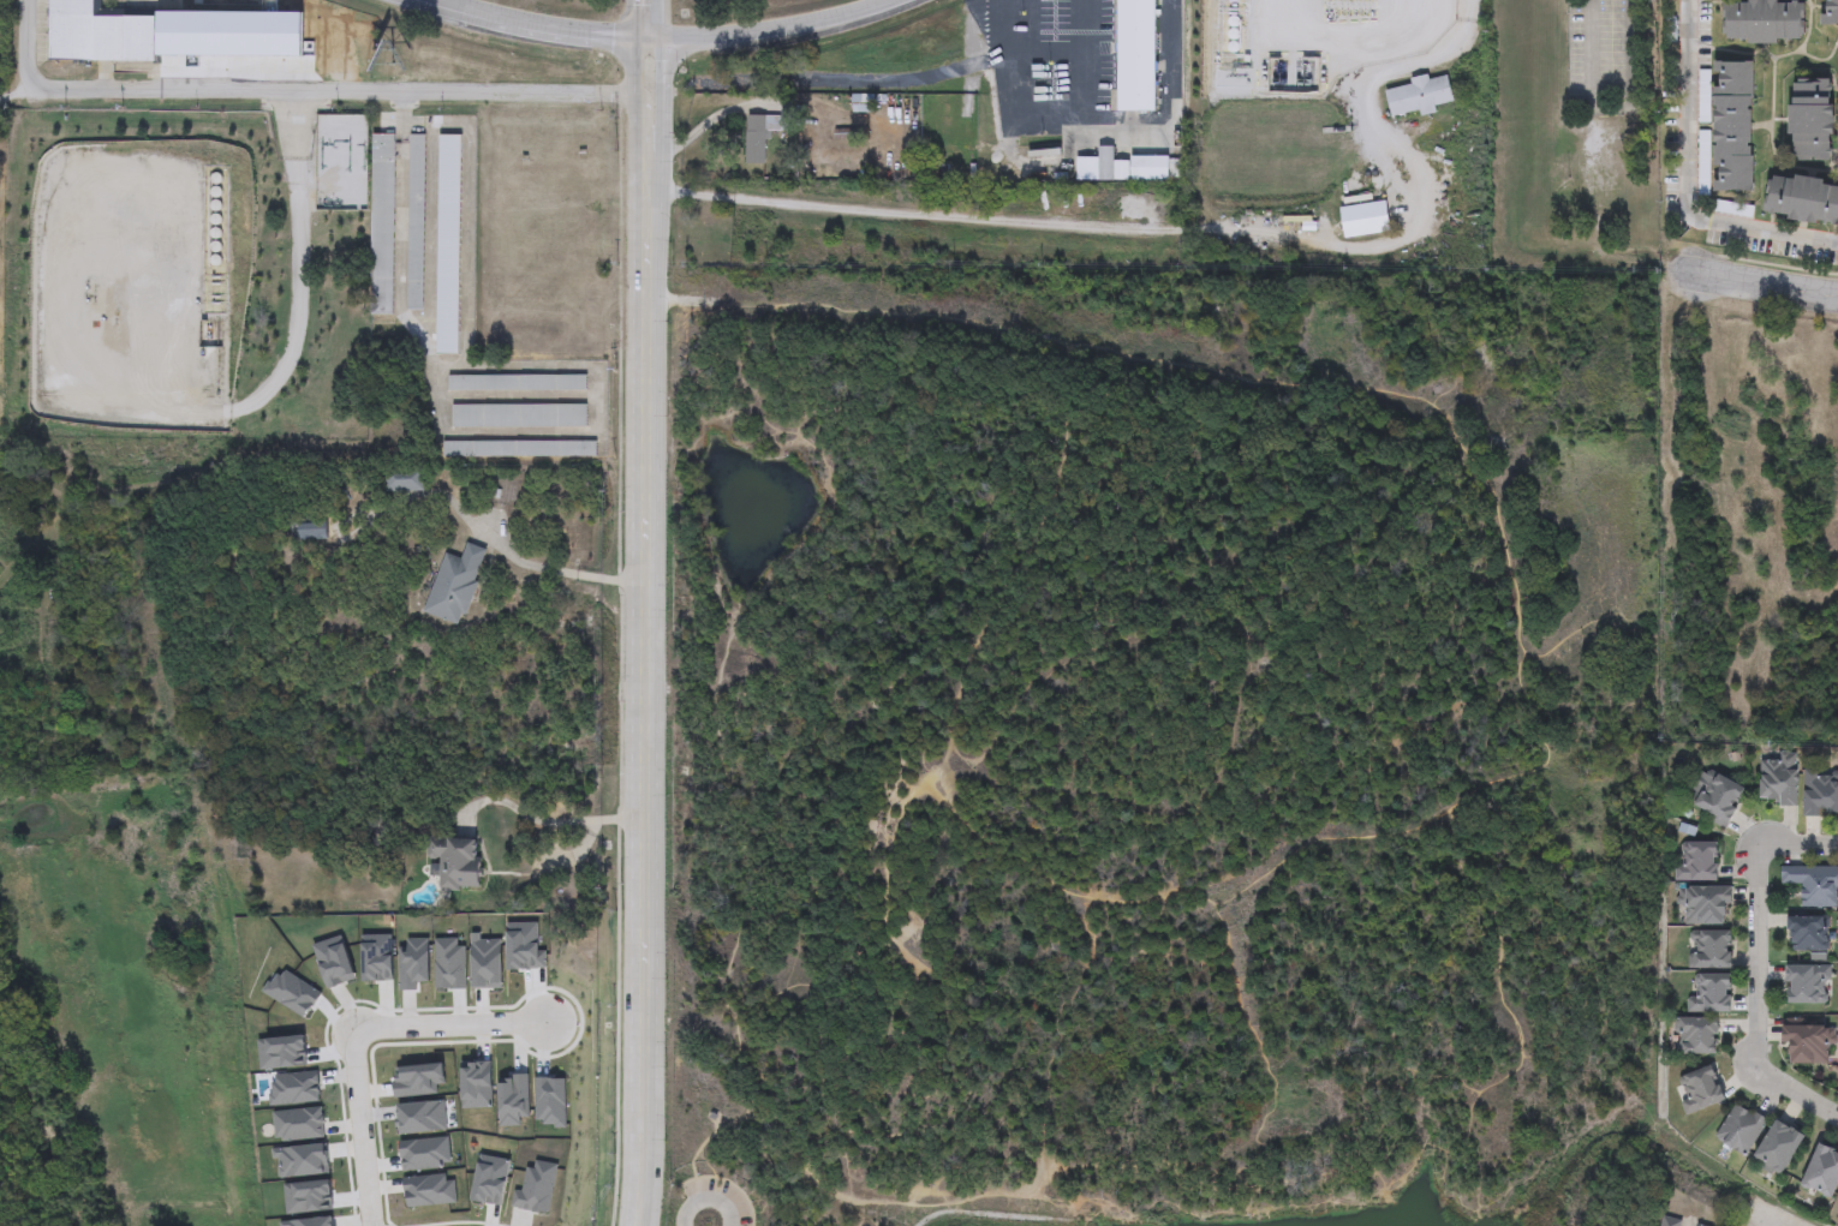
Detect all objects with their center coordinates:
road: (979, 2)
building: (1830, 13)
road: (646, 19)
building: (1765, 23)
building: (97, 35)
road: (667, 37)
road: (1345, 41)
road: (219, 43)
road: (1050, 53)
building: (1136, 55)
road: (1084, 62)
road: (901, 82)
road: (294, 90)
building: (1419, 97)
road: (664, 103)
building: (861, 103)
road: (631, 104)
road: (1615, 108)
road: (399, 115)
building: (1813, 116)
building: (1733, 122)
road: (1122, 125)
road: (1384, 132)
building: (764, 133)
building: (1148, 169)
road: (1690, 179)
road: (646, 180)
building: (1802, 197)
road: (985, 220)
building: (1365, 221)
building: (416, 223)
building: (382, 226)
building: (448, 244)
road: (1767, 282)
road: (680, 300)
road: (882, 316)
building: (517, 383)
building: (518, 417)
building: (519, 449)
building: (404, 480)
building: (311, 532)
road: (560, 572)
building: (455, 585)
road: (1587, 634)
road: (981, 642)
road: (716, 693)
road: (1249, 694)
road: (645, 707)
building: (1779, 778)
building: (1821, 793)
building: (1718, 799)
road: (544, 820)
road: (1798, 847)
building: (456, 861)
building: (1697, 862)
building: (1814, 885)
building: (1706, 905)
road: (887, 910)
building: (1808, 933)
building: (523, 945)
building: (1709, 950)
building: (377, 955)
building: (334, 959)
building: (412, 962)
building: (485, 962)
building: (447, 963)
building: (554, 975)
building: (1808, 985)
building: (1713, 994)
road: (770, 1003)
road: (1755, 1004)
road: (1258, 1024)
road: (350, 1030)
building: (1699, 1036)
building: (1808, 1045)
road: (1512, 1063)
building: (418, 1078)
building: (476, 1083)
building: (293, 1087)
building: (1702, 1090)
building: (513, 1098)
building: (550, 1100)
building: (420, 1116)
road: (1466, 1117)
road: (903, 1120)
building: (298, 1123)
building: (1741, 1130)
building: (1779, 1147)
building: (423, 1152)
building: (302, 1156)
building: (1824, 1172)
building: (488, 1176)
road: (728, 1183)
building: (535, 1185)
building: (425, 1189)
road: (975, 1197)
road: (1303, 1197)
road: (705, 1200)
parking lot: (736, 1202)
building: (309, 1220)
road: (1765, 1220)
road: (1777, 1221)
building: (1675, 1222)

